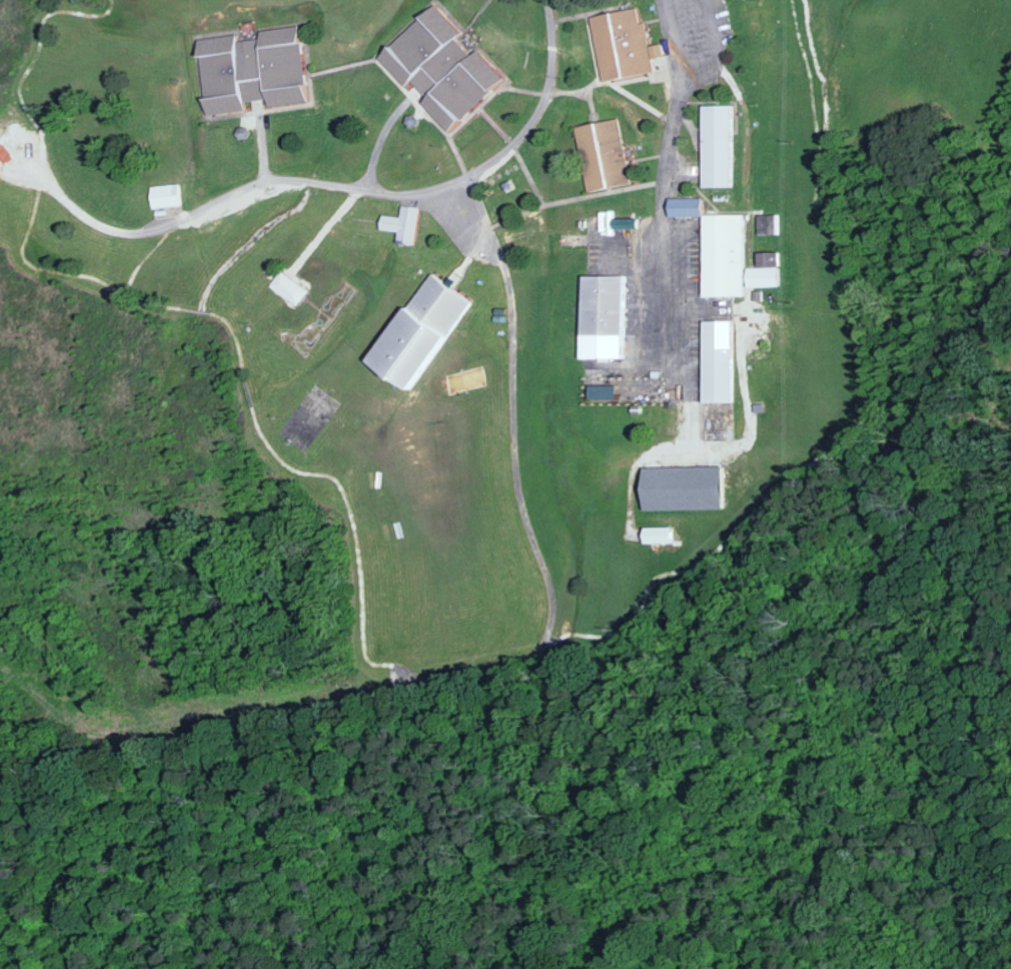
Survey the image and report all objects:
building: (622, 45)
road: (714, 49)
building: (436, 67)
building: (249, 71)
building: (714, 146)
building: (601, 154)
road: (655, 180)
building: (164, 196)
building: (682, 207)
building: (621, 223)
building: (400, 224)
building: (769, 224)
building: (722, 255)
building: (767, 271)
building: (288, 288)
building: (602, 317)
building: (417, 334)
building: (716, 361)
building: (602, 392)
building: (680, 488)
building: (656, 535)

